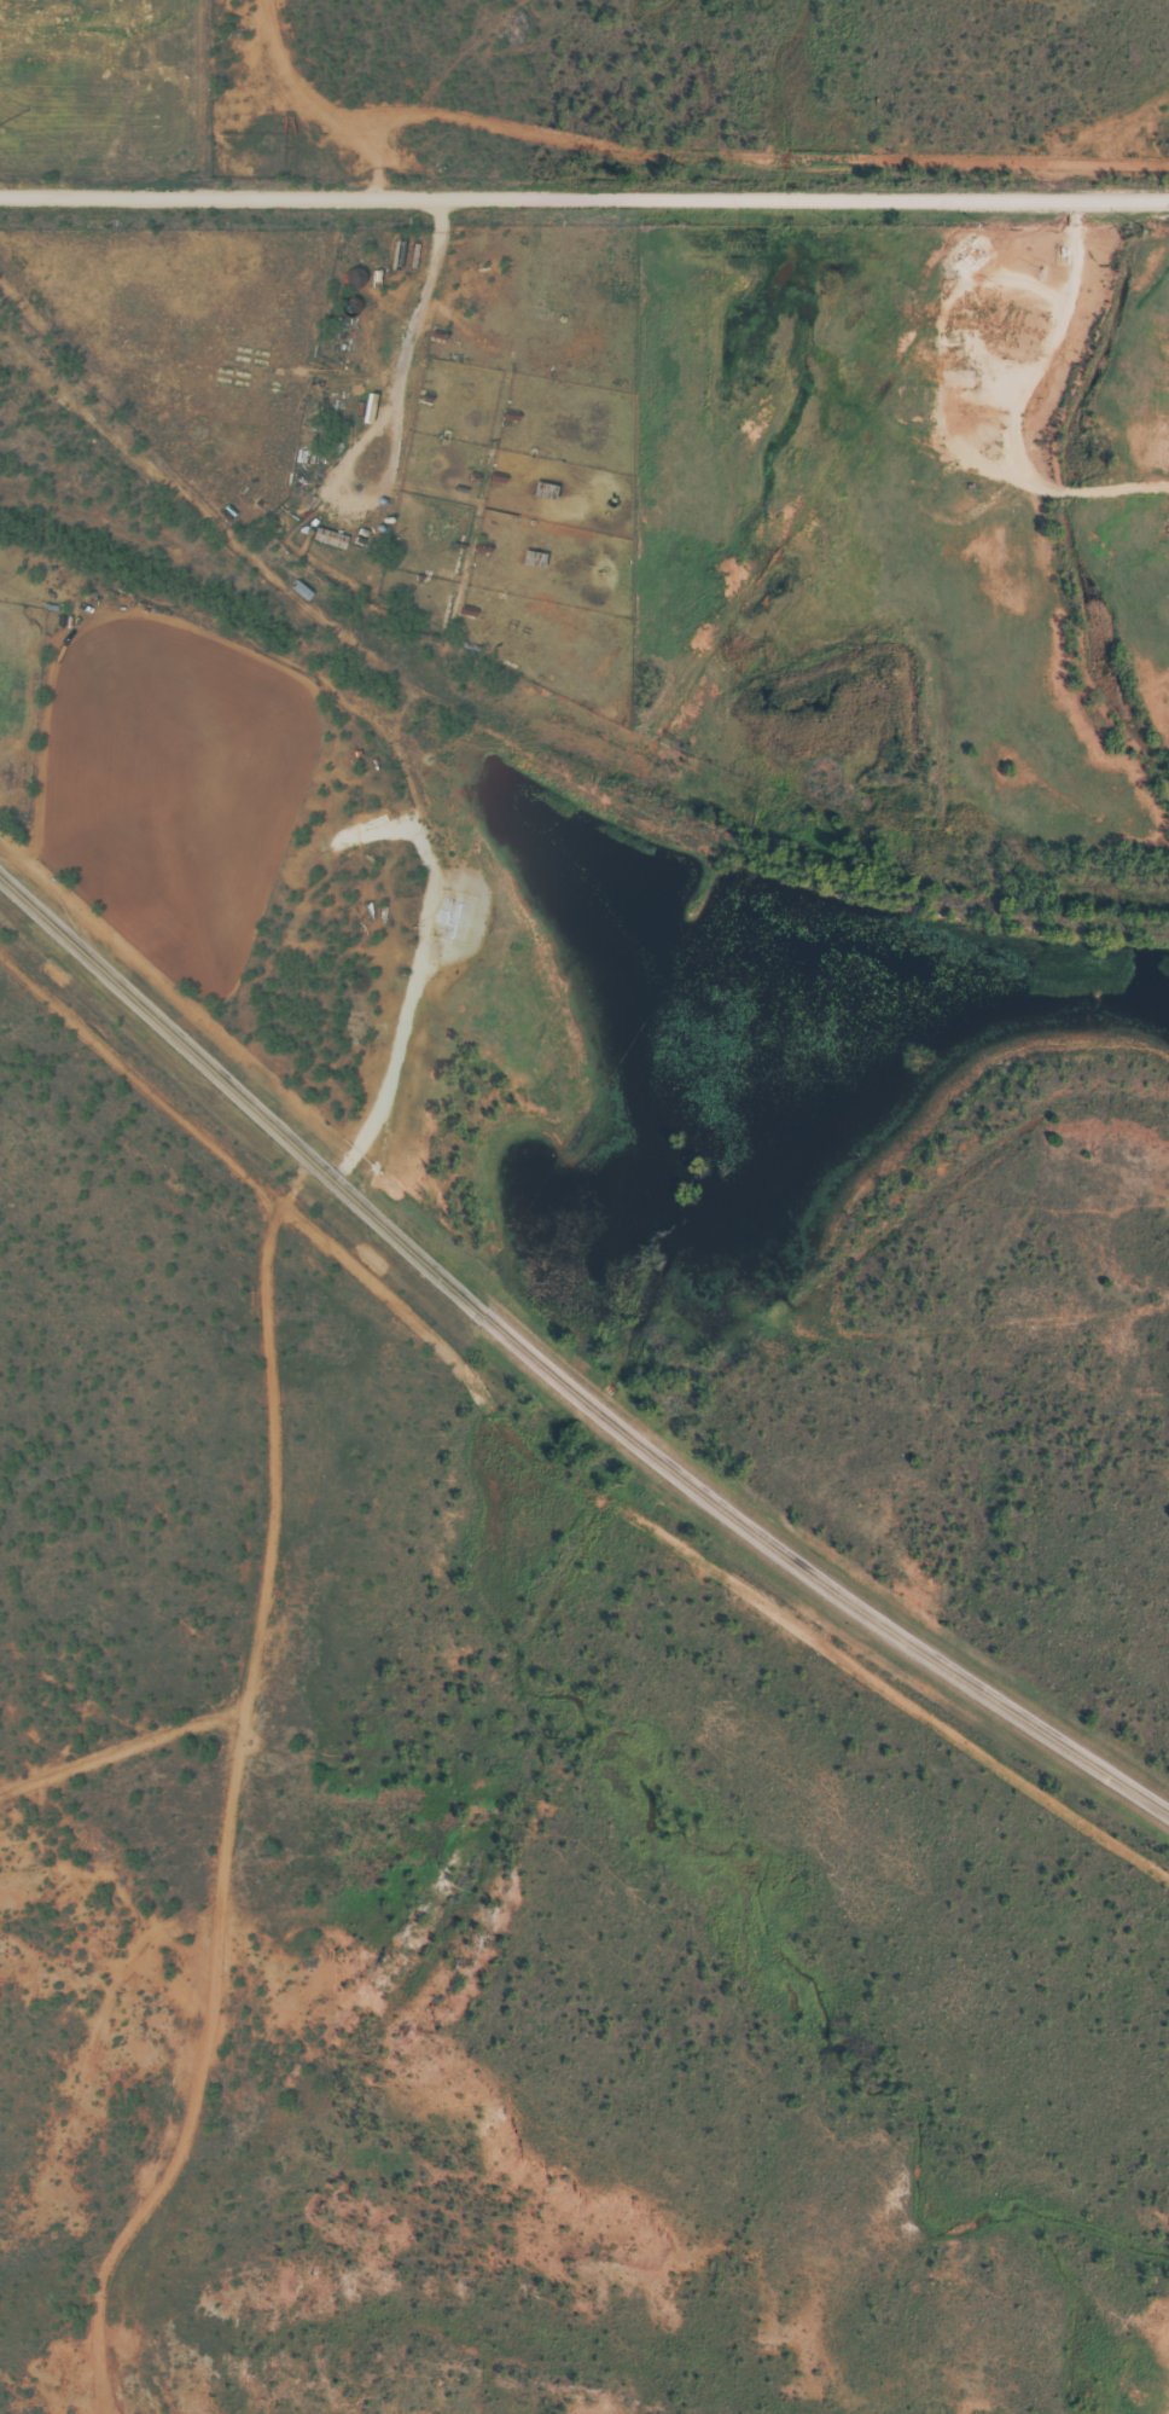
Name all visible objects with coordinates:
road: (583, 196)
road: (396, 426)
railway: (569, 727)
road: (558, 1382)

